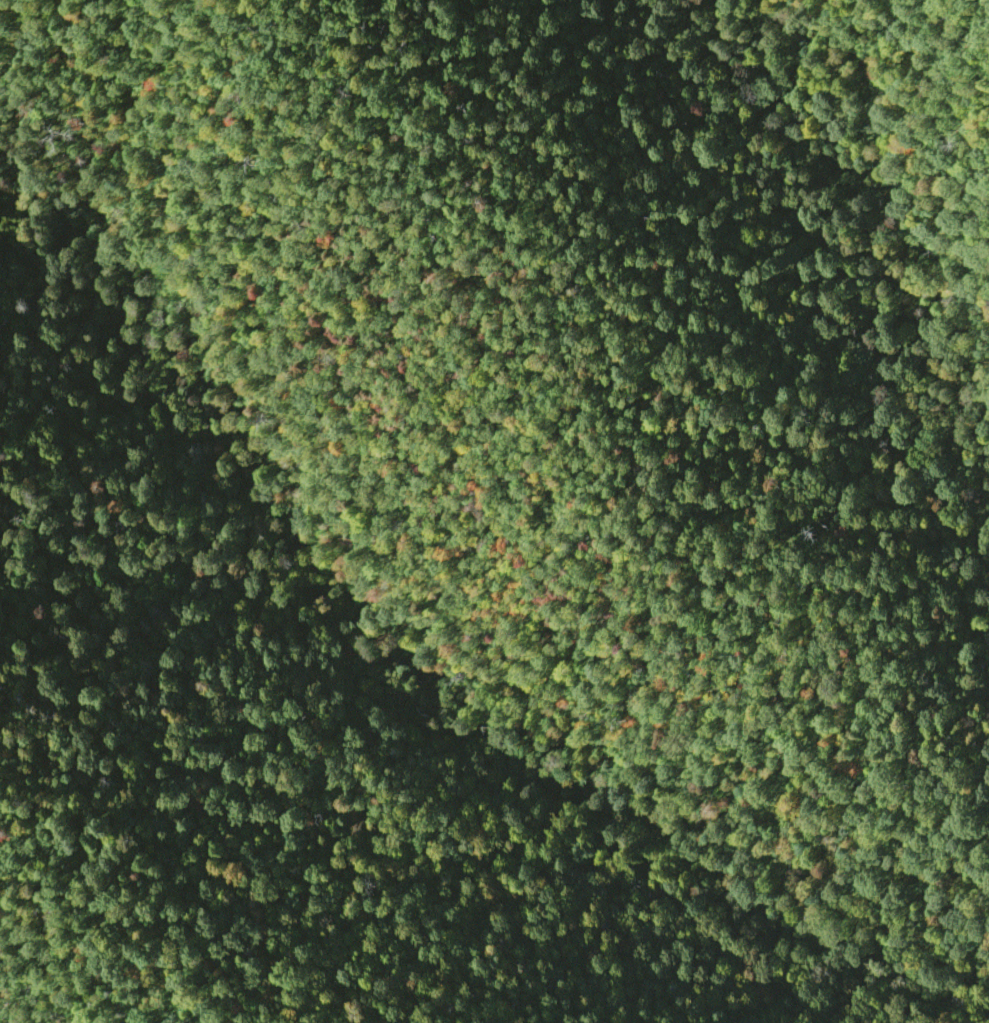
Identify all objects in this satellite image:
road: (840, 917)

